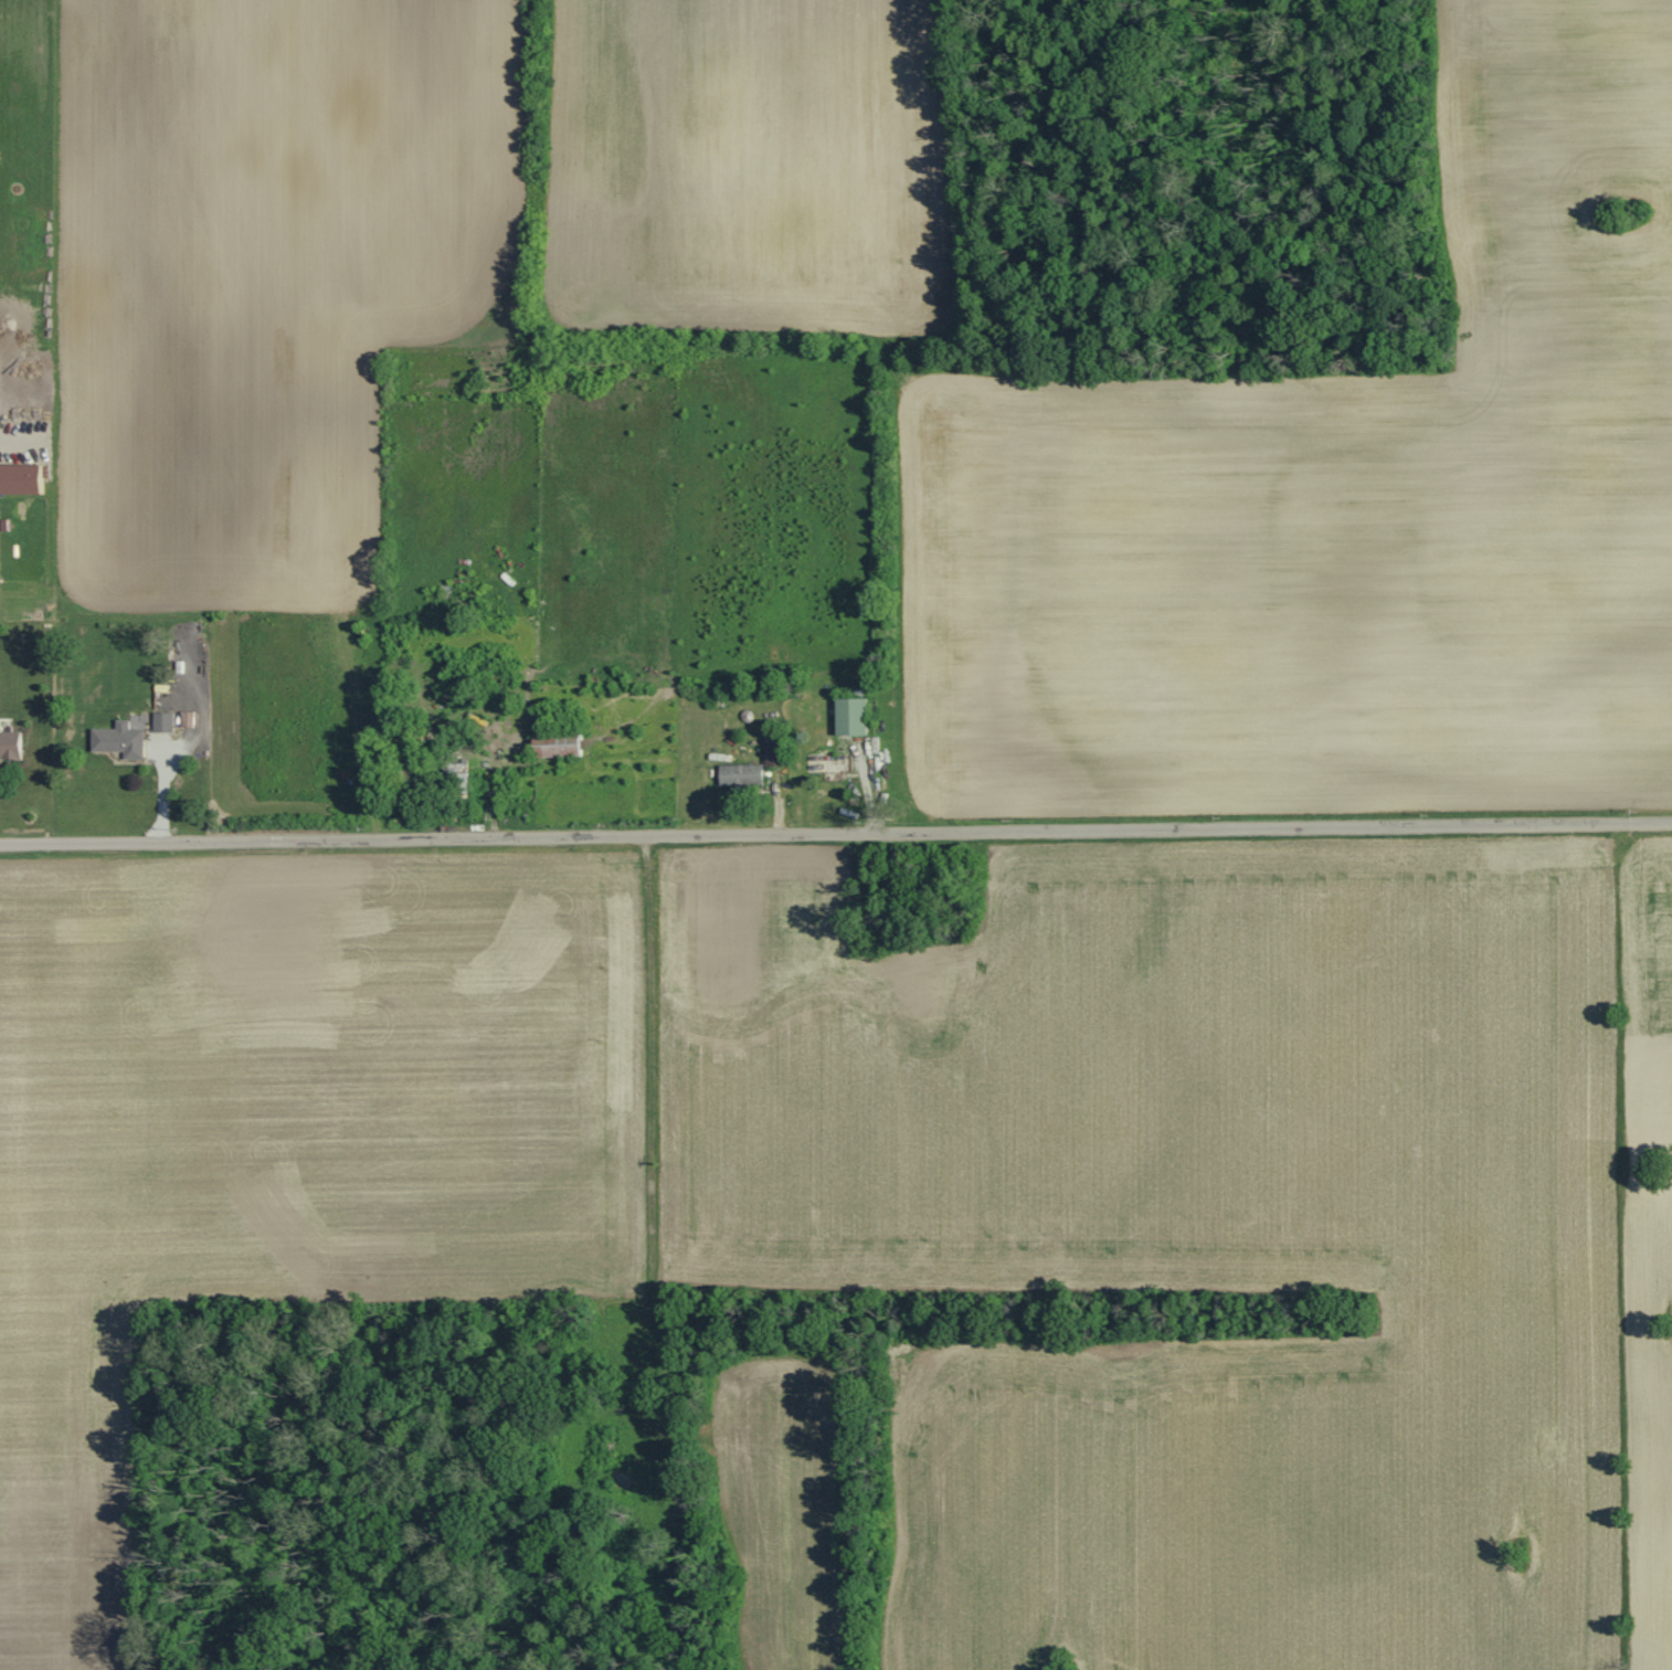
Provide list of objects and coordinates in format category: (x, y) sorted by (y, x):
building: (20, 479)
building: (851, 717)
building: (188, 720)
building: (163, 722)
building: (119, 740)
building: (555, 744)
building: (10, 746)
building: (742, 774)
road: (836, 833)

